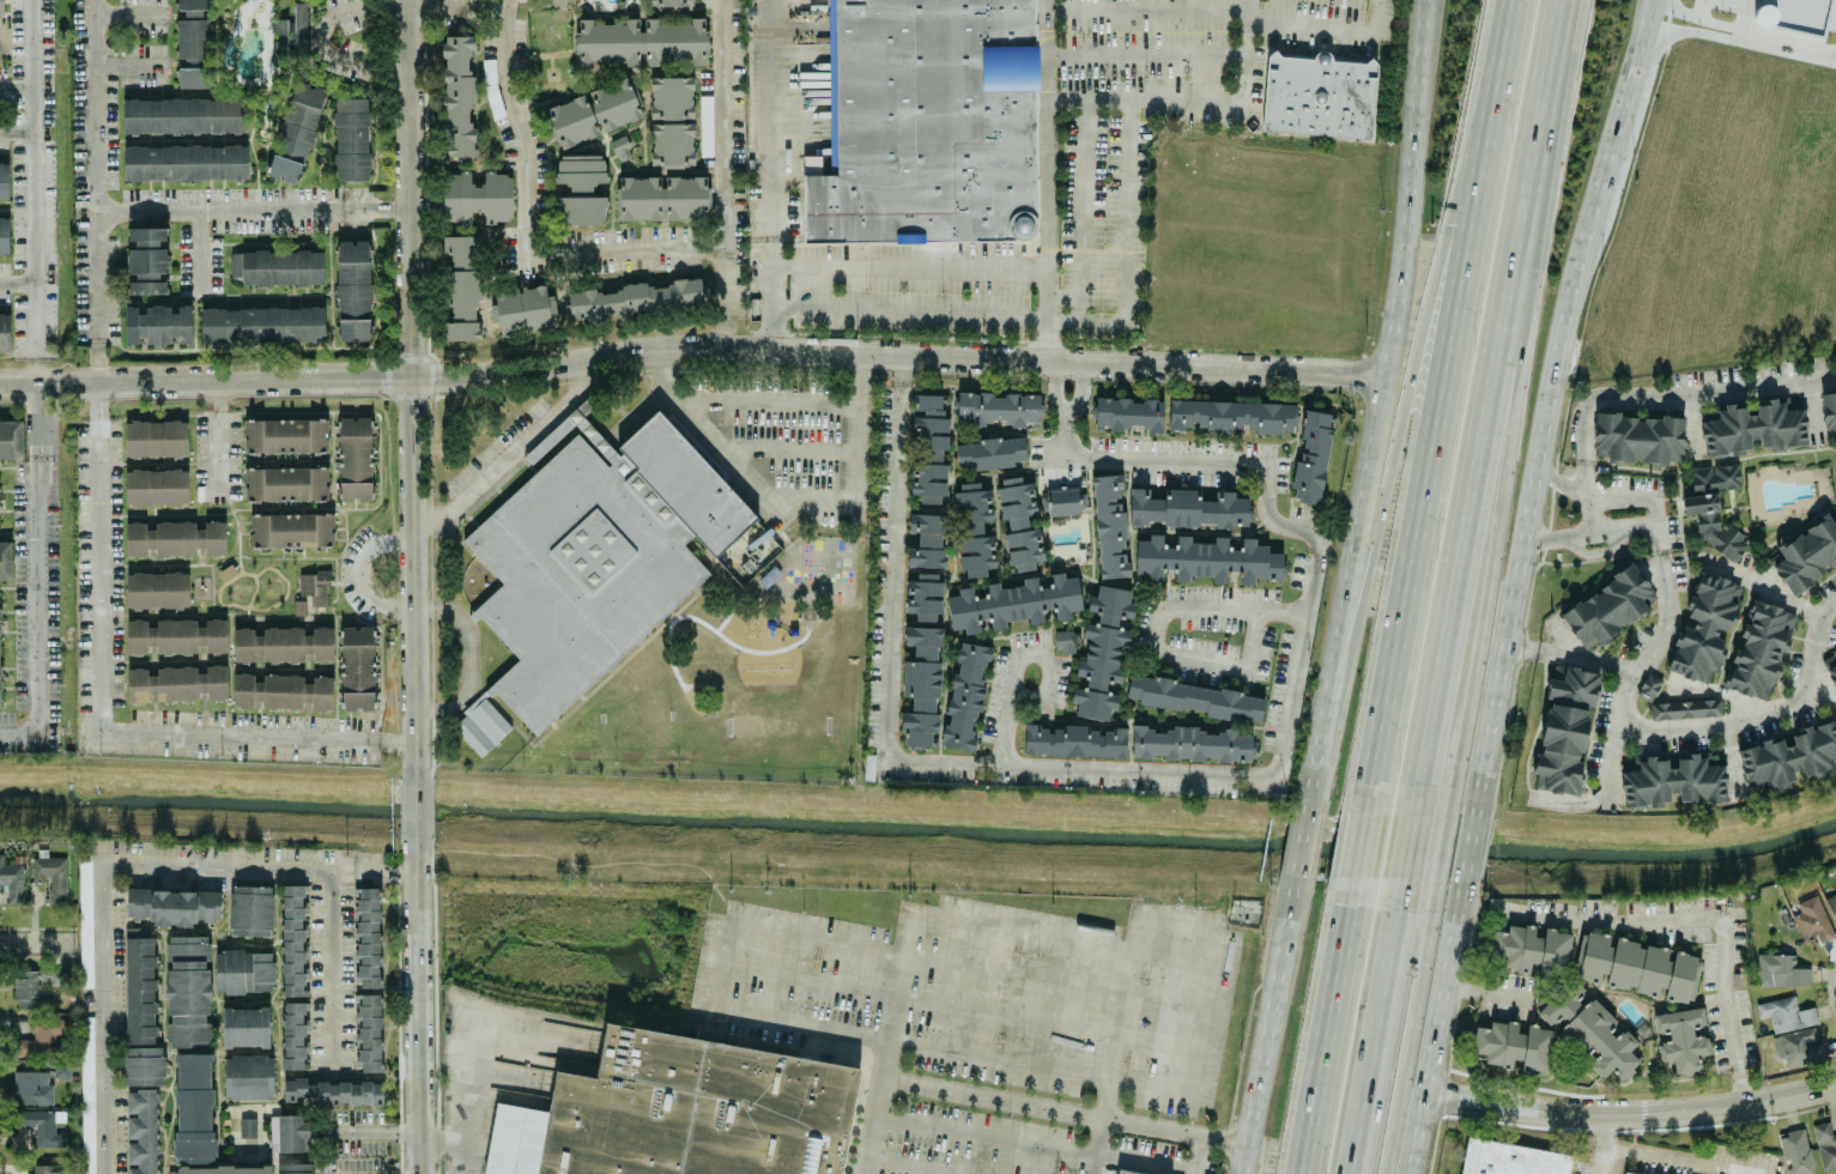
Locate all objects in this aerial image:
building: (671, 2)
building: (193, 4)
road: (1517, 5)
road: (456, 7)
road: (1146, 7)
road: (1698, 7)
building: (1, 8)
road: (126, 13)
road: (1744, 17)
building: (299, 25)
road: (1327, 28)
road: (1740, 35)
building: (192, 37)
building: (279, 37)
building: (673, 41)
building: (607, 42)
road: (1788, 46)
road: (1244, 52)
road: (331, 53)
road: (1145, 54)
road: (125, 63)
building: (193, 77)
road: (16, 86)
building: (458, 95)
building: (1319, 95)
road: (1143, 98)
building: (616, 103)
building: (183, 114)
road: (770, 119)
building: (572, 120)
building: (672, 120)
building: (927, 122)
road: (723, 123)
building: (705, 125)
road: (17, 132)
building: (351, 138)
building: (620, 147)
building: (184, 162)
road: (1414, 165)
building: (4, 180)
road: (1048, 180)
building: (581, 188)
road: (412, 189)
road: (95, 190)
road: (34, 192)
building: (456, 196)
building: (495, 196)
building: (661, 196)
road: (254, 205)
road: (1081, 210)
road: (526, 230)
building: (4, 235)
road: (199, 244)
building: (461, 249)
building: (278, 266)
road: (910, 267)
road: (17, 284)
building: (353, 290)
road: (772, 292)
road: (726, 297)
road: (1061, 297)
building: (634, 299)
building: (463, 304)
building: (520, 308)
road: (1059, 319)
building: (158, 323)
building: (262, 325)
building: (5, 331)
road: (897, 353)
road: (1418, 362)
road: (255, 381)
road: (50, 383)
road: (1055, 386)
road: (1080, 388)
road: (1489, 392)
road: (1556, 392)
road: (1680, 394)
road: (1444, 397)
road: (745, 399)
building: (998, 407)
road: (1812, 407)
road: (38, 409)
building: (1128, 413)
building: (1829, 414)
building: (1234, 416)
building: (1751, 428)
road: (219, 432)
building: (286, 435)
building: (156, 437)
building: (1638, 437)
building: (11, 438)
road: (1501, 446)
building: (928, 448)
road: (792, 450)
road: (511, 452)
building: (990, 453)
road: (34, 455)
road: (43, 455)
building: (355, 458)
building: (1311, 458)
building: (1715, 477)
road: (1563, 480)
building: (286, 483)
building: (156, 486)
road: (819, 497)
building: (1062, 501)
building: (1187, 507)
building: (1019, 522)
road: (1361, 524)
building: (1713, 524)
building: (1109, 525)
building: (974, 528)
building: (291, 529)
road: (1557, 533)
road: (1593, 533)
building: (175, 538)
building: (927, 539)
building: (596, 553)
building: (1806, 553)
building: (1207, 557)
building: (5, 559)
road: (362, 570)
road: (414, 575)
building: (314, 586)
road: (1767, 586)
building: (157, 589)
building: (923, 595)
building: (1013, 601)
road: (1173, 605)
building: (1607, 606)
road: (1829, 607)
road: (1279, 613)
road: (38, 619)
building: (1704, 628)
building: (176, 636)
building: (923, 640)
building: (1065, 641)
building: (283, 643)
road: (1521, 649)
building: (1759, 649)
building: (1102, 652)
road: (467, 655)
road: (1579, 661)
building: (1830, 665)
building: (357, 667)
road: (1824, 678)
building: (175, 683)
building: (1649, 684)
building: (281, 691)
building: (964, 696)
road: (1043, 696)
building: (1196, 697)
building: (0, 700)
building: (920, 700)
road: (114, 708)
building: (1685, 708)
road: (1664, 724)
road: (1004, 726)
building: (1564, 728)
building: (1073, 740)
building: (1190, 743)
building: (1788, 756)
road: (1322, 758)
road: (1178, 769)
building: (1671, 779)
road: (1604, 782)
road: (417, 810)
road: (1307, 839)
road: (1470, 840)
road: (1410, 843)
road: (1368, 845)
road: (1438, 845)
road: (104, 861)
building: (54, 877)
building: (12, 880)
building: (1835, 880)
building: (174, 906)
building: (1831, 906)
building: (250, 909)
road: (1684, 914)
building: (1812, 920)
road: (1090, 924)
building: (366, 937)
building: (292, 939)
road: (37, 940)
building: (1529, 946)
road: (717, 961)
building: (1636, 966)
building: (1780, 969)
building: (243, 970)
road: (331, 974)
building: (37, 986)
road: (1481, 990)
building: (188, 992)
road: (419, 1011)
building: (1786, 1012)
building: (141, 1013)
road: (1119, 1024)
building: (244, 1025)
road: (1273, 1025)
building: (1589, 1028)
building: (368, 1031)
road: (1437, 1033)
building: (293, 1034)
building: (41, 1036)
road: (1406, 1036)
road: (1373, 1037)
road: (1333, 1039)
building: (1680, 1039)
road: (902, 1042)
building: (1511, 1043)
building: (1799, 1046)
road: (1218, 1052)
building: (62, 1070)
road: (483, 1070)
building: (248, 1076)
building: (32, 1087)
building: (332, 1091)
building: (87, 1095)
road: (1634, 1112)
building: (680, 1113)
road: (1075, 1114)
building: (206, 1122)
building: (42, 1126)
building: (247, 1126)
building: (143, 1131)
road: (371, 1131)
building: (290, 1132)
road: (993, 1136)
road: (1608, 1143)
building: (1825, 1144)
road: (1096, 1146)
building: (1795, 1152)
building: (1509, 1158)
road: (1689, 1158)
building: (48, 1168)
building: (172, 1172)
building: (1128, 1172)
building: (1623, 1173)

